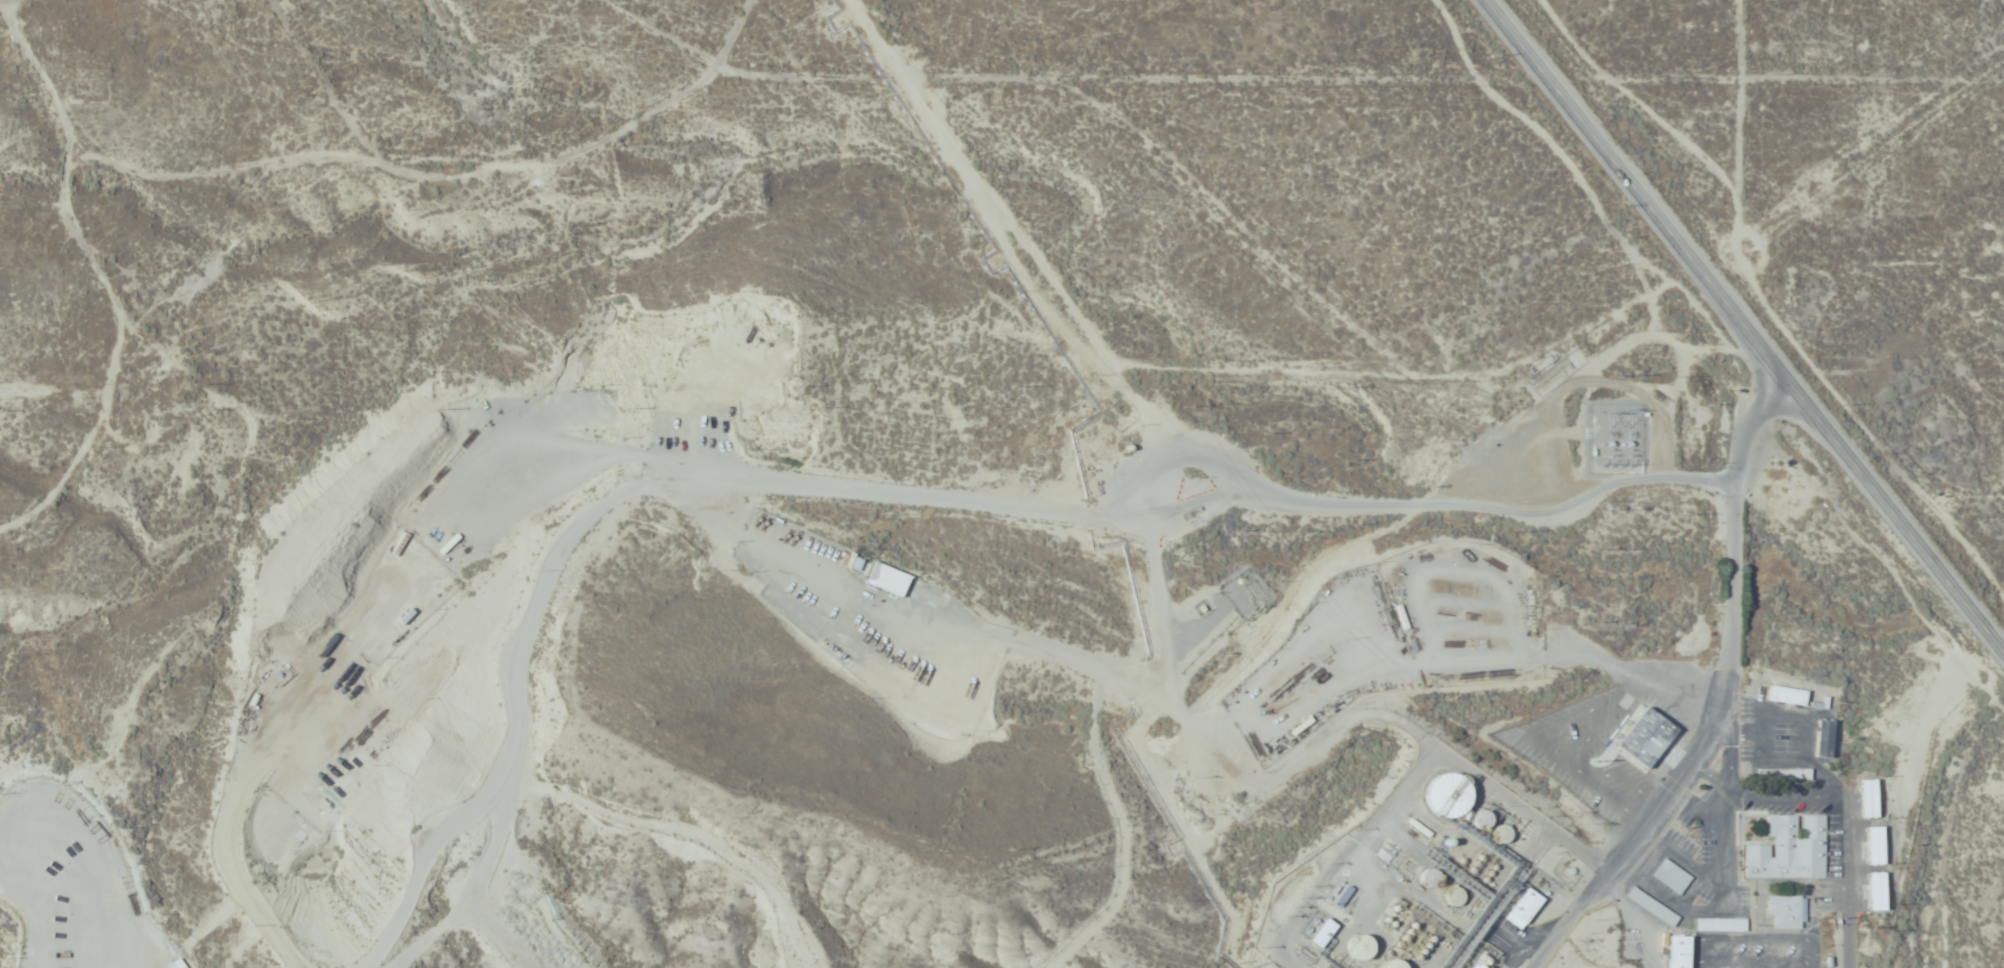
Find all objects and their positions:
road: (1746, 323)
building: (890, 579)
building: (1785, 695)
building: (1276, 736)
building: (1642, 738)
building: (1447, 800)
building: (1788, 849)
building: (1671, 876)
building: (1653, 907)
building: (1523, 908)
building: (1785, 910)
building: (1323, 933)
building: (1359, 949)
building: (1678, 952)

